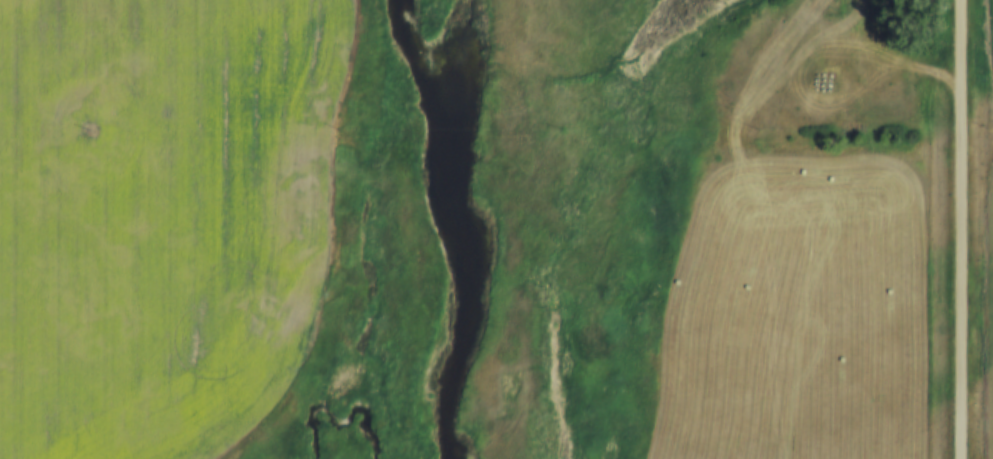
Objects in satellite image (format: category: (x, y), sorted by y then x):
road: (875, 64)
road: (958, 229)

